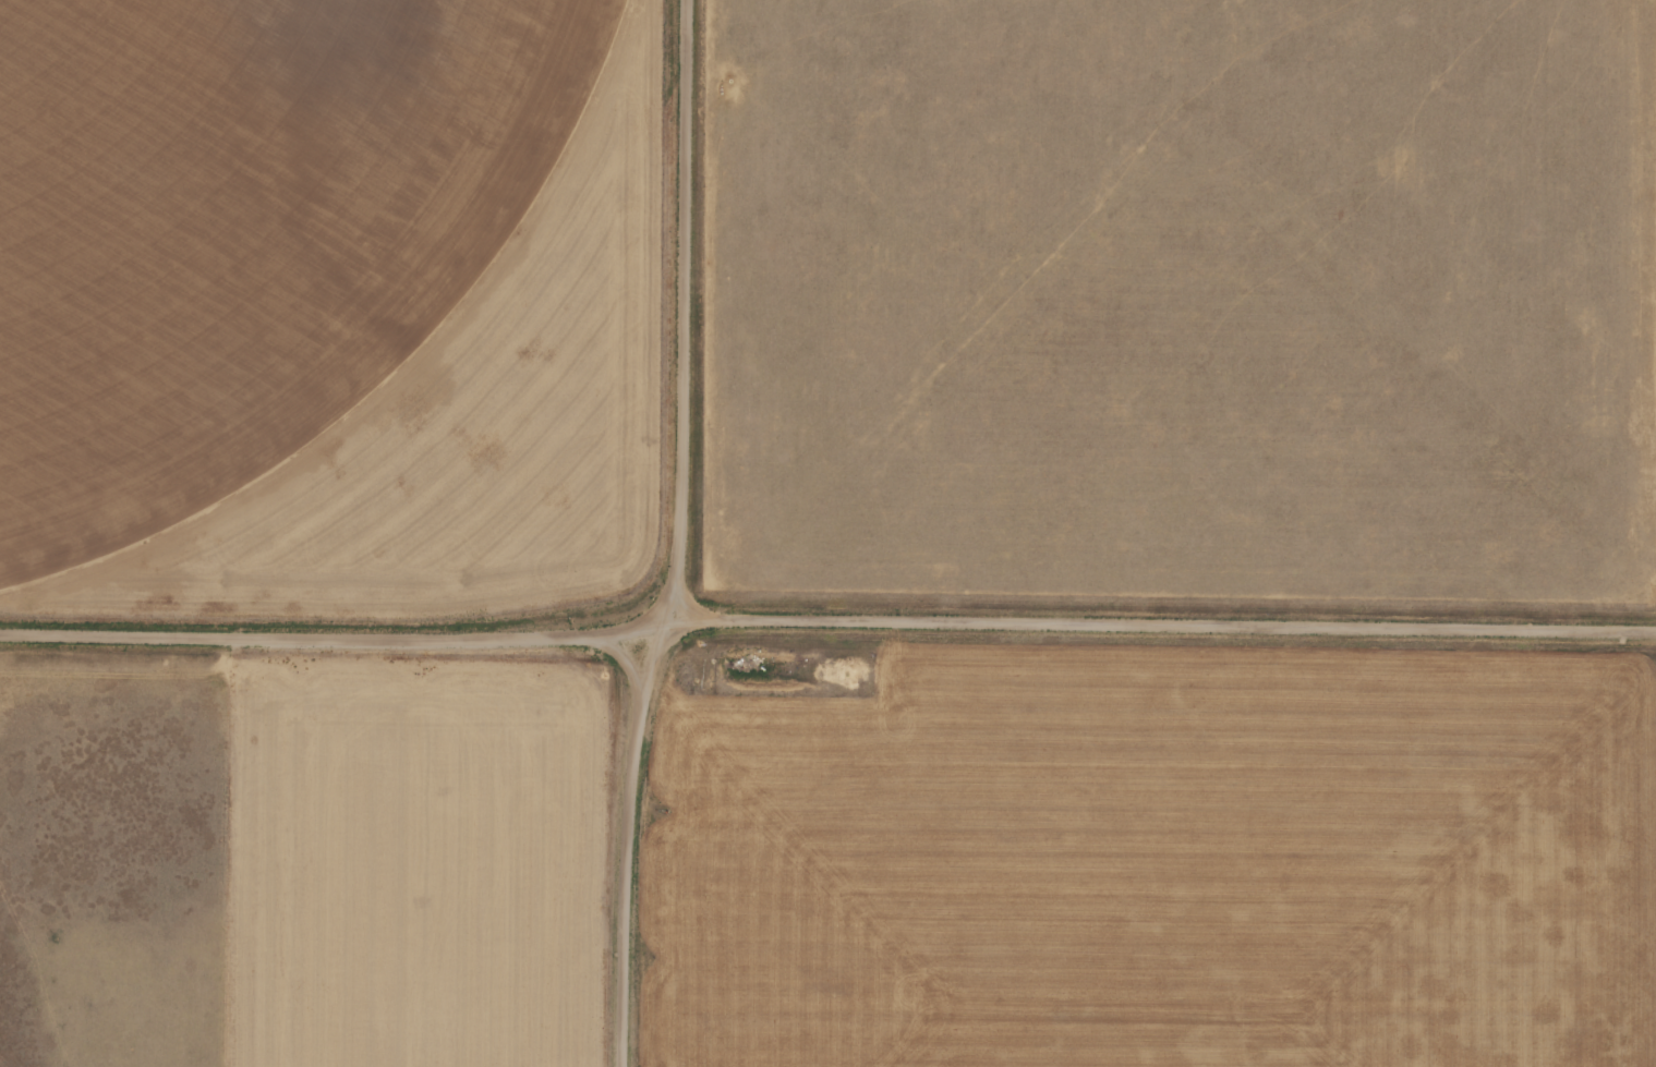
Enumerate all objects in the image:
road: (679, 535)
road: (1159, 627)
road: (331, 638)

